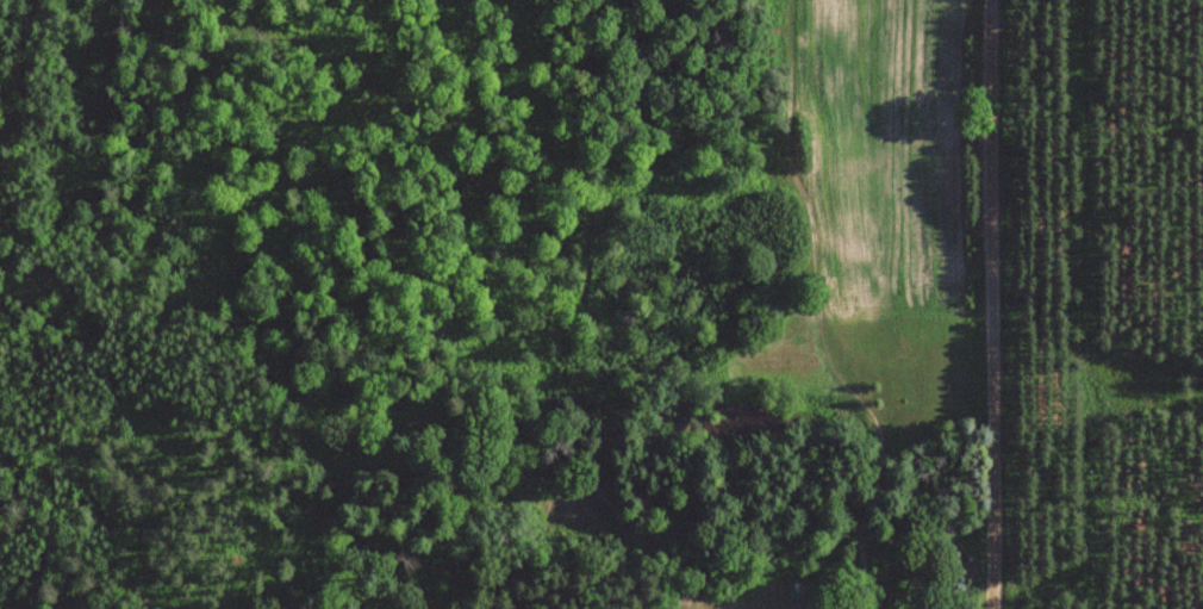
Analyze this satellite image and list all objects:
road: (996, 304)

